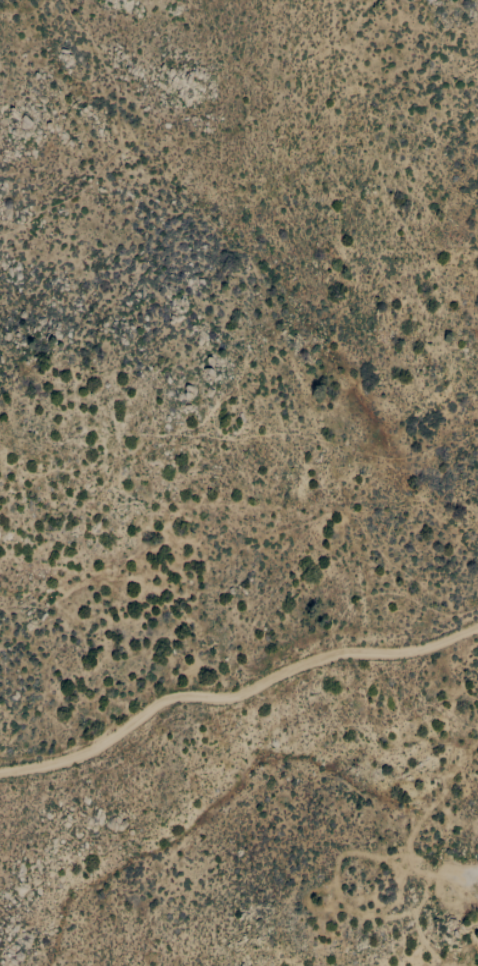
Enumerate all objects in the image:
road: (235, 693)

